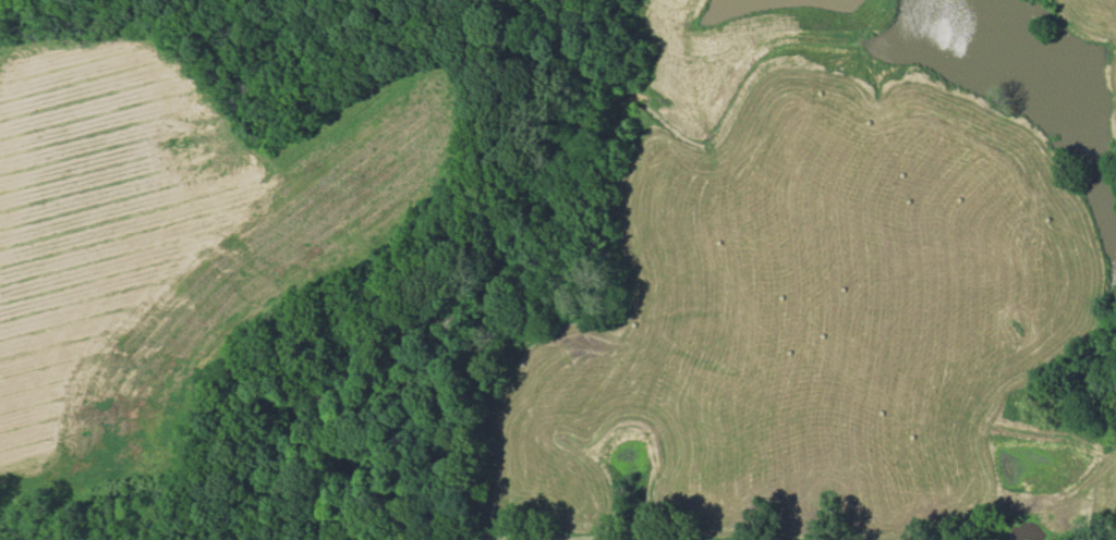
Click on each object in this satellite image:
crop: (792, 309)

